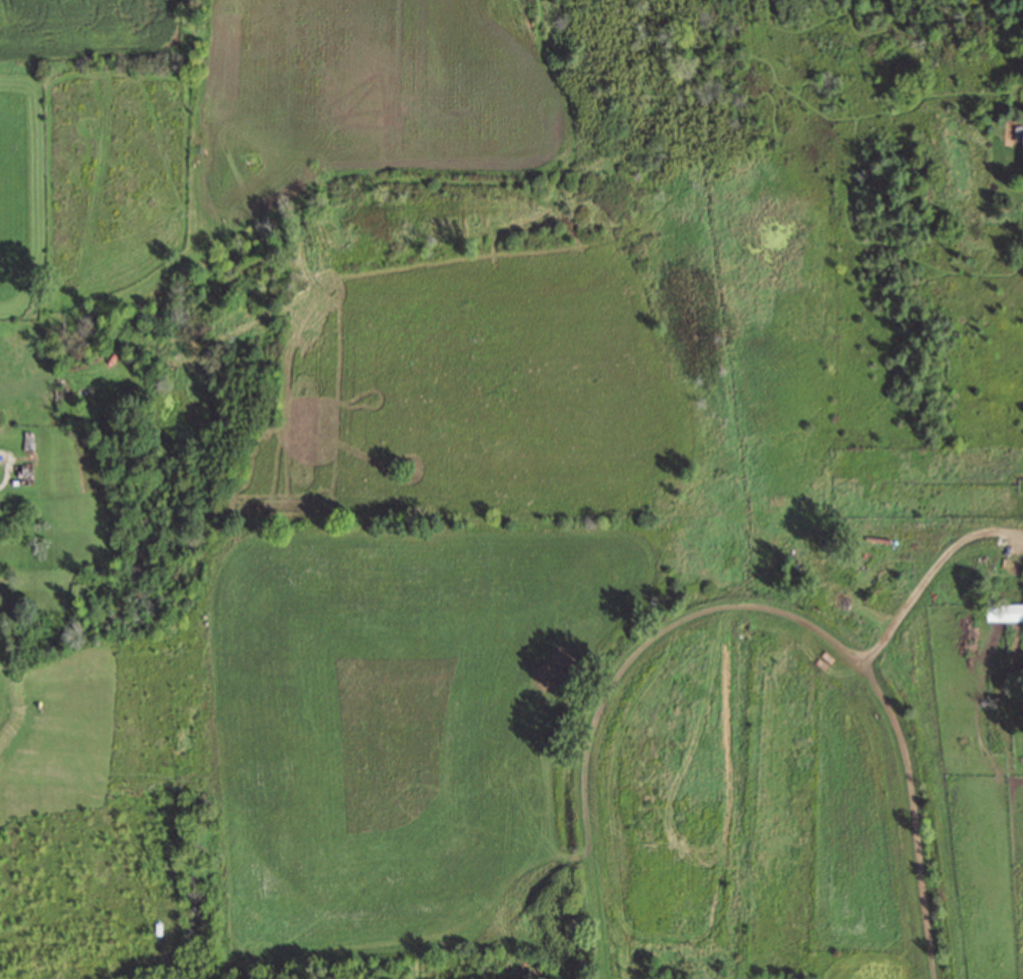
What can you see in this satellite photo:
building: (1022, 150)
building: (1004, 613)

